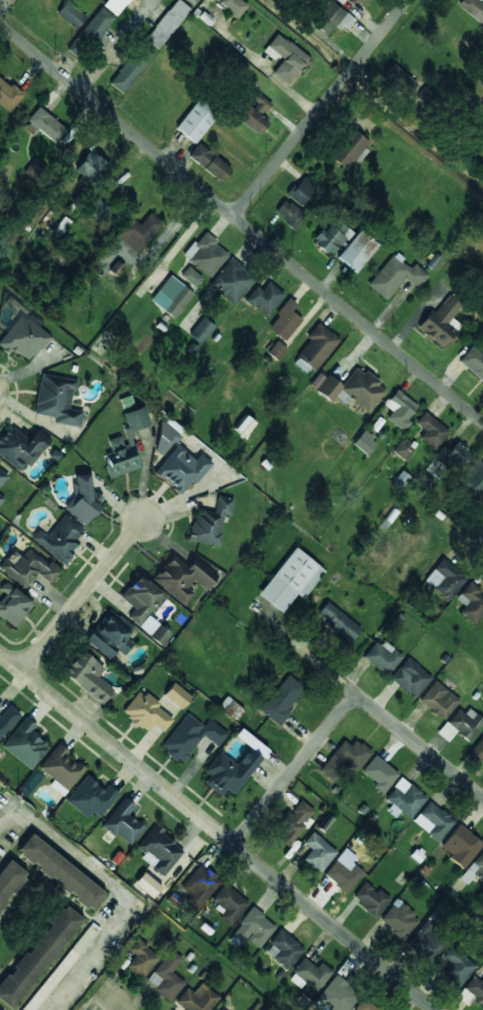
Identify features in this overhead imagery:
building: (341, 0)
building: (352, 1)
building: (115, 5)
building: (232, 6)
building: (472, 9)
building: (70, 14)
building: (329, 20)
building: (167, 23)
building: (90, 33)
road: (113, 43)
building: (284, 58)
building: (131, 67)
building: (399, 78)
building: (8, 95)
road: (321, 107)
building: (256, 113)
building: (196, 120)
building: (47, 124)
building: (348, 149)
building: (210, 162)
building: (91, 170)
building: (301, 190)
building: (101, 210)
building: (289, 213)
road: (241, 221)
building: (138, 232)
building: (332, 236)
building: (357, 250)
building: (206, 254)
building: (116, 268)
building: (191, 276)
building: (395, 276)
building: (231, 281)
building: (171, 296)
building: (264, 297)
building: (285, 320)
building: (441, 322)
building: (201, 330)
building: (23, 338)
building: (317, 346)
building: (276, 350)
building: (473, 362)
road: (56, 366)
building: (350, 388)
building: (57, 399)
building: (400, 409)
building: (244, 426)
building: (431, 430)
building: (166, 436)
building: (365, 442)
building: (125, 445)
building: (21, 446)
building: (402, 449)
building: (450, 457)
building: (182, 468)
building: (2, 477)
building: (472, 481)
building: (1, 498)
building: (82, 500)
building: (210, 522)
building: (60, 537)
building: (28, 567)
building: (183, 578)
road: (182, 579)
building: (445, 579)
building: (290, 580)
building: (471, 602)
building: (13, 604)
building: (145, 607)
building: (482, 621)
building: (337, 622)
building: (110, 634)
building: (381, 657)
building: (87, 675)
building: (410, 677)
building: (177, 695)
building: (281, 700)
building: (439, 700)
building: (230, 708)
building: (146, 713)
building: (8, 718)
building: (465, 723)
building: (191, 736)
building: (26, 743)
road: (418, 746)
building: (477, 750)
road: (118, 752)
building: (345, 758)
road: (297, 765)
building: (234, 766)
building: (379, 773)
building: (91, 797)
building: (404, 799)
building: (433, 821)
building: (123, 822)
building: (294, 824)
building: (461, 845)
building: (159, 850)
building: (0, 852)
building: (318, 852)
building: (473, 868)
building: (344, 871)
building: (61, 873)
building: (9, 879)
building: (147, 884)
building: (199, 886)
road: (118, 891)
building: (370, 899)
building: (229, 904)
building: (399, 919)
road: (333, 925)
building: (253, 928)
building: (424, 945)
building: (284, 949)
building: (37, 956)
building: (141, 959)
building: (482, 965)
building: (61, 967)
building: (312, 973)
building: (166, 976)
building: (472, 990)
building: (336, 996)
building: (196, 999)
road: (120, 1003)
building: (364, 1005)
building: (219, 1008)

